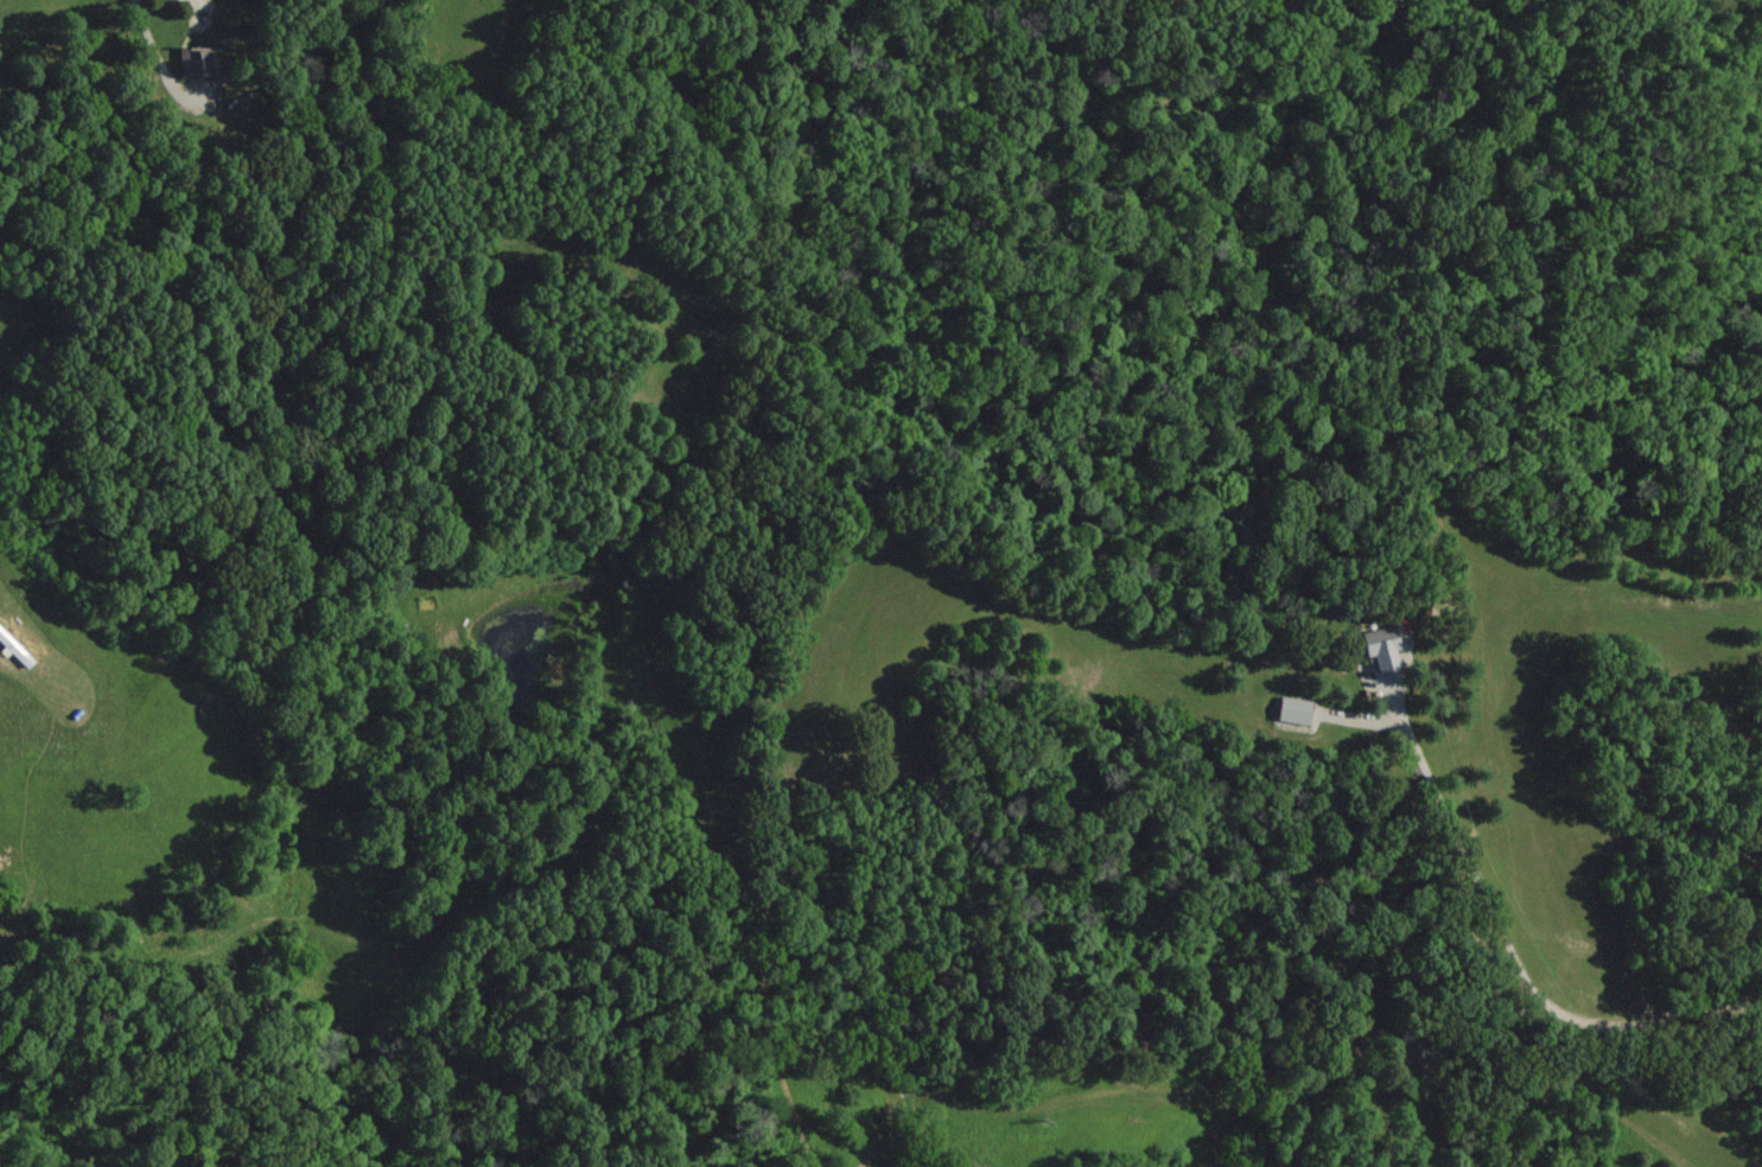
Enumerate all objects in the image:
building: (195, 62)
building: (1381, 646)
building: (1293, 713)
road: (1510, 986)

